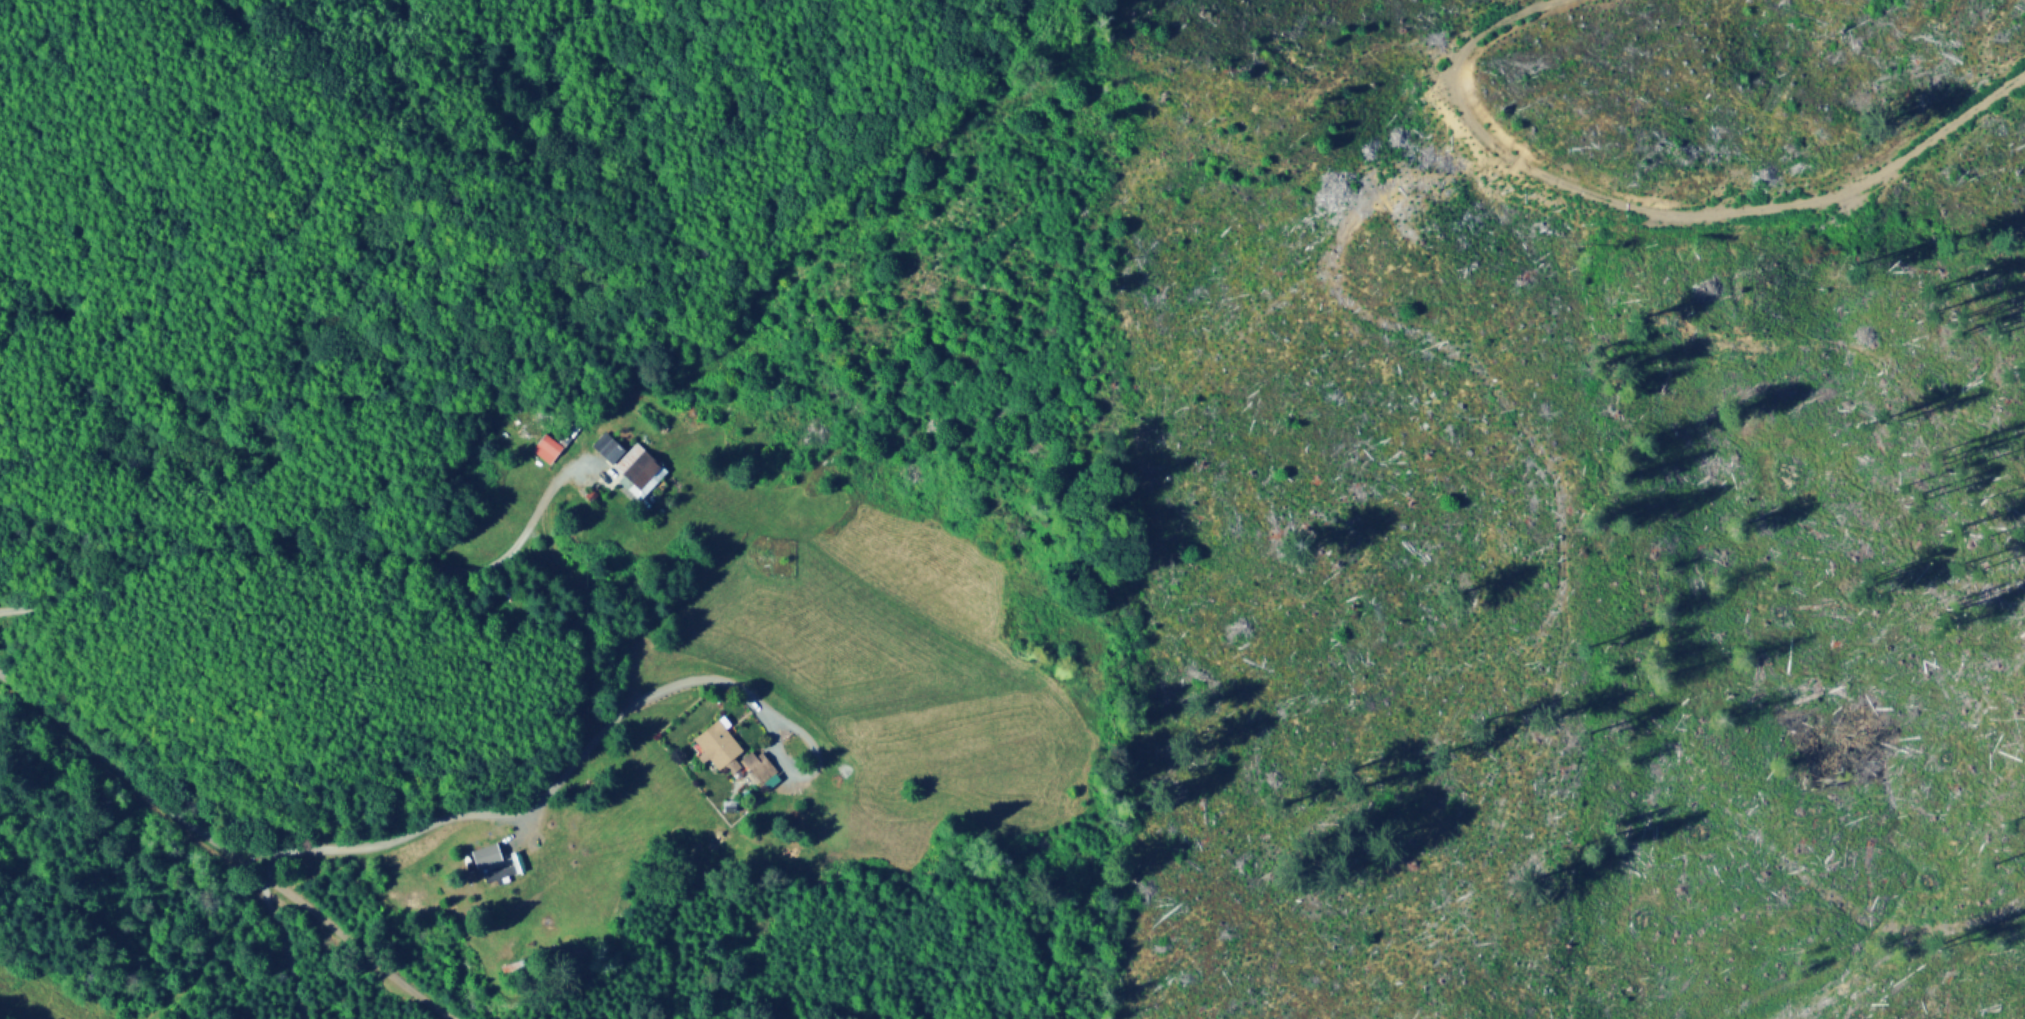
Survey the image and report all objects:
building: (546, 446)
building: (606, 446)
building: (638, 469)
road: (312, 555)
building: (717, 742)
building: (757, 764)
building: (770, 779)
road: (559, 788)
road: (227, 843)
building: (485, 854)
building: (506, 868)
road: (1021, 932)

